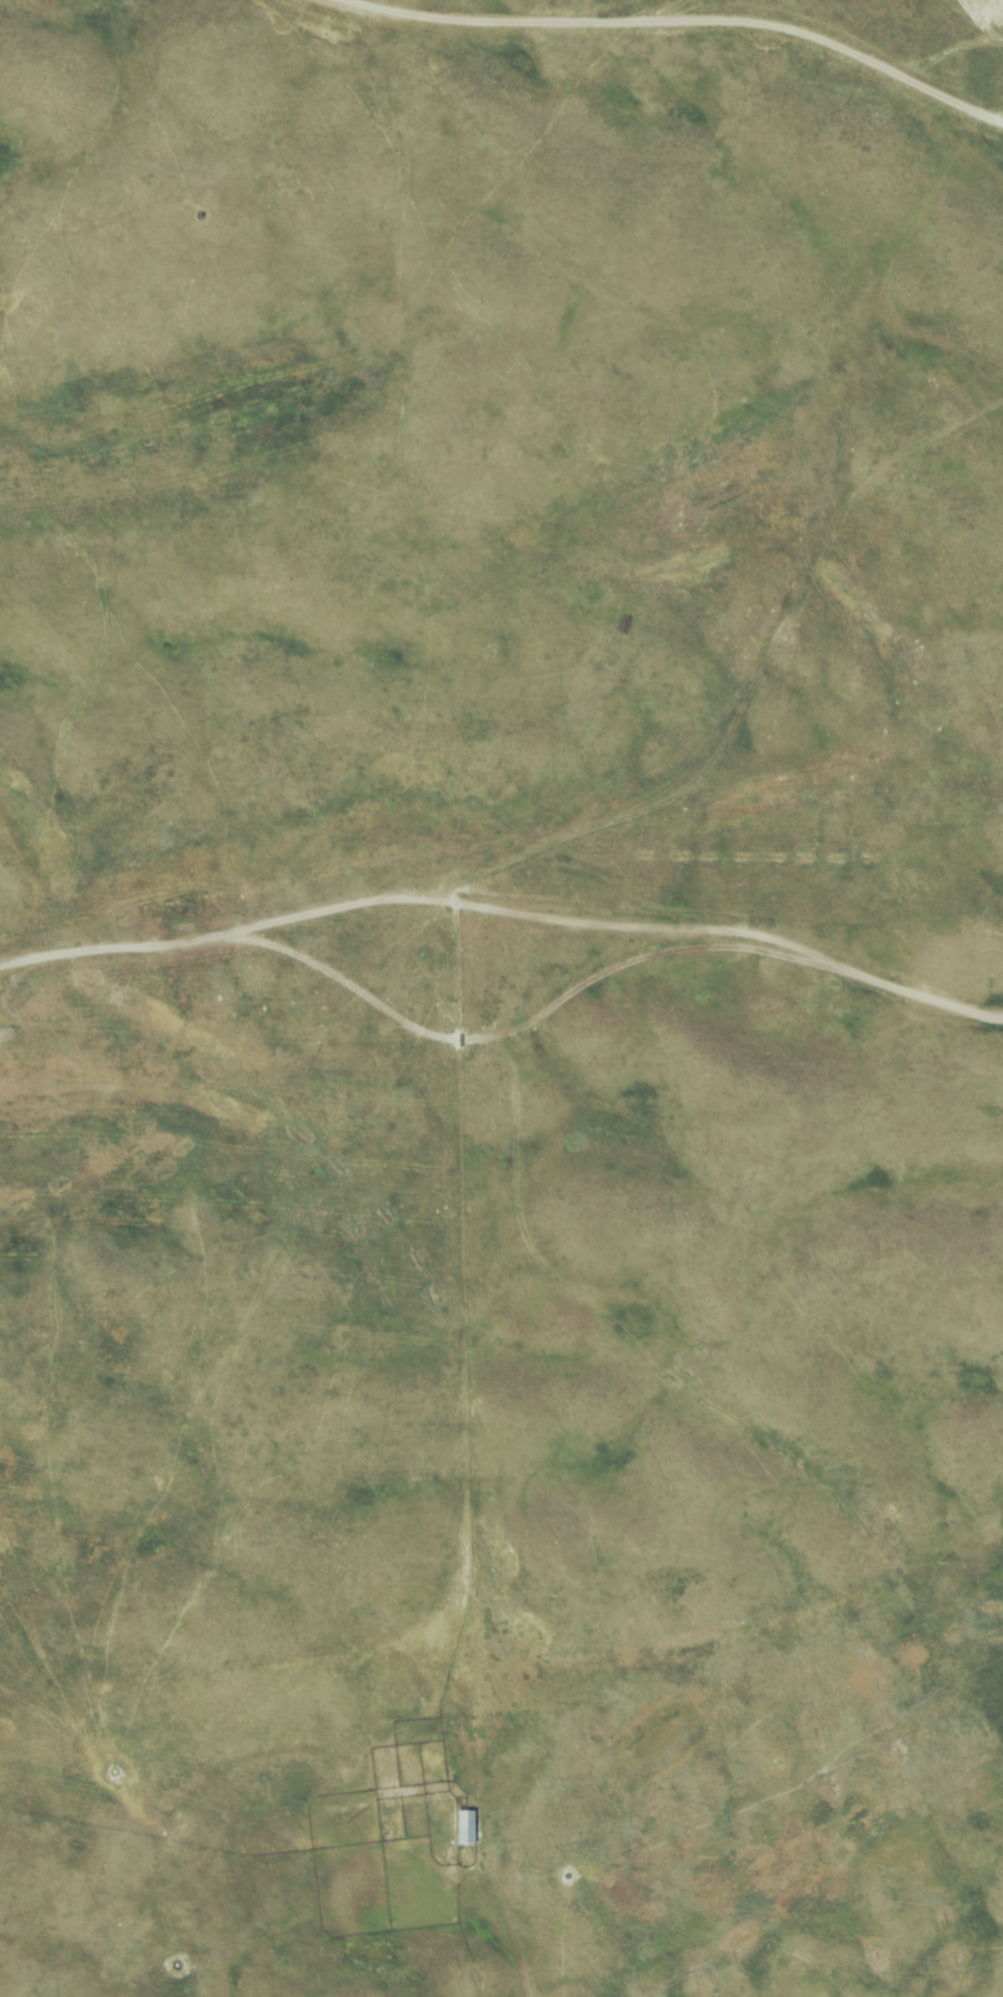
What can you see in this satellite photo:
road: (670, 29)
road: (598, 836)

